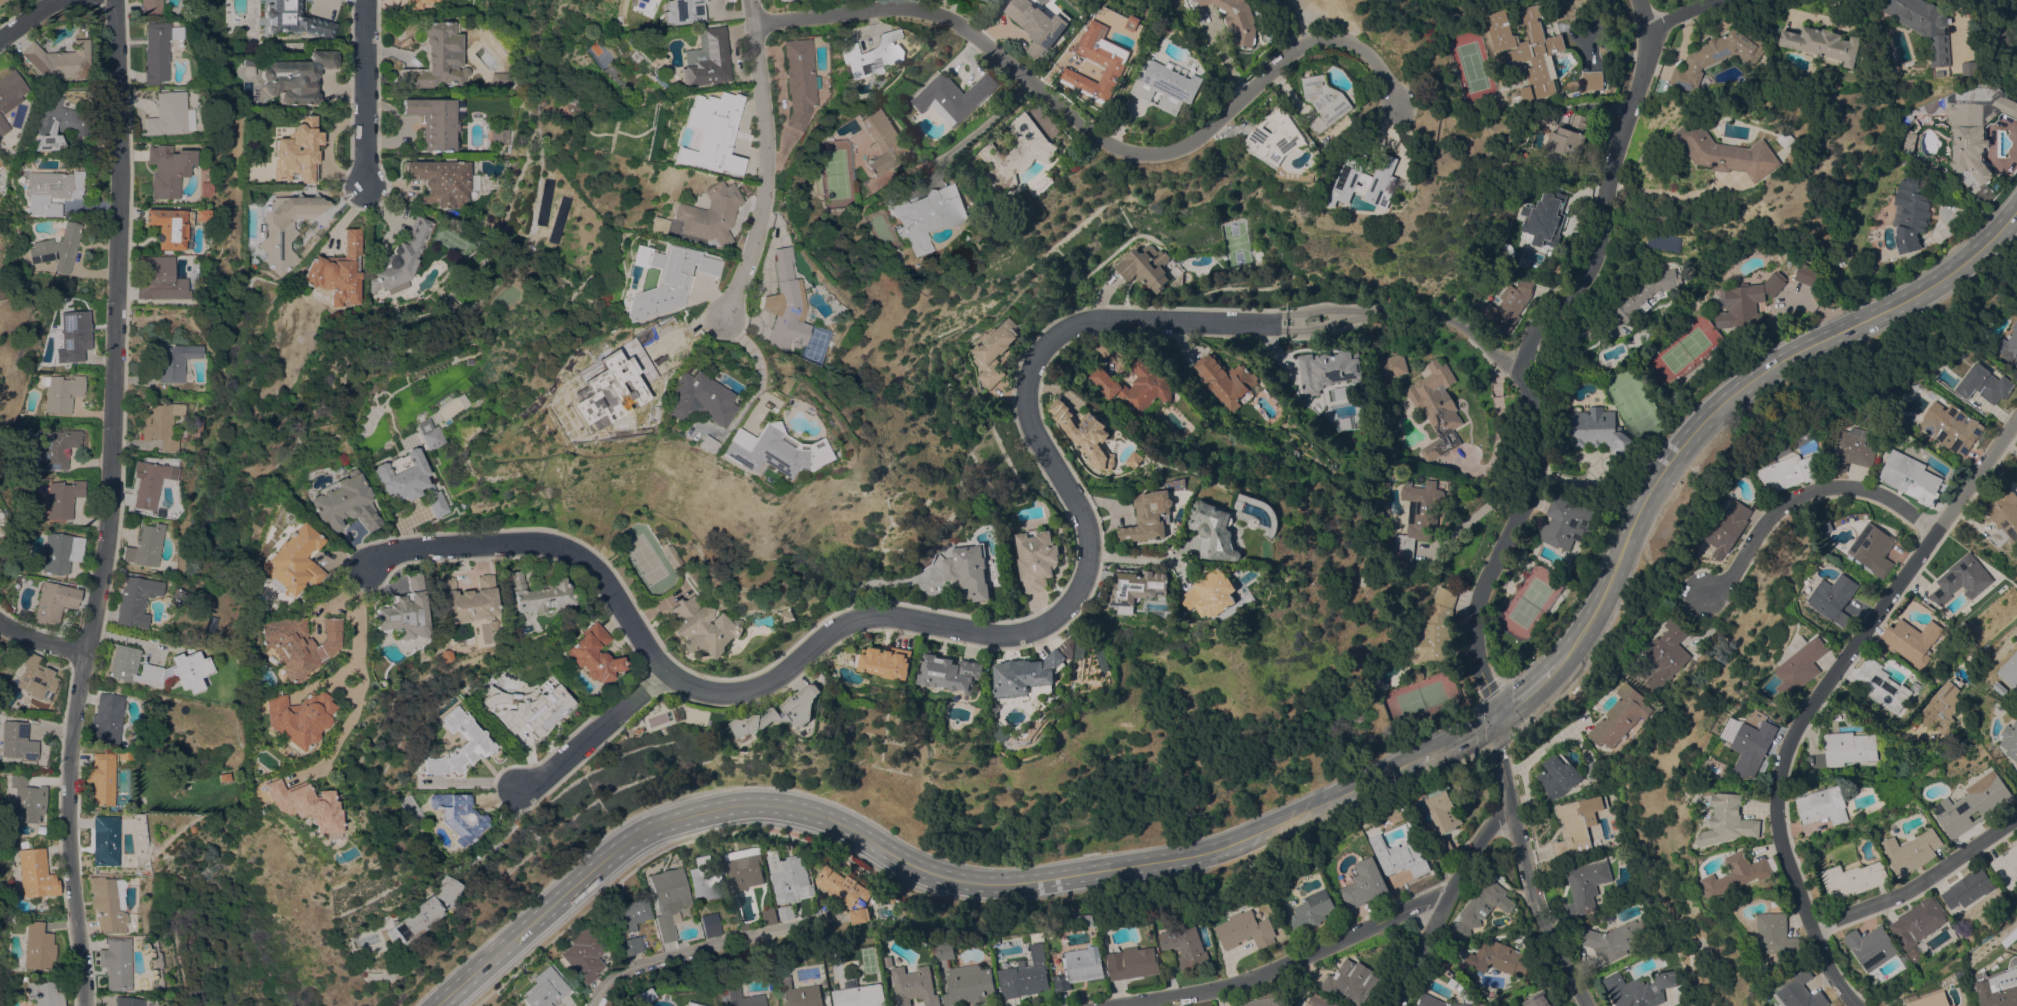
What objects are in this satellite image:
building: (1, 0)
building: (769, 0)
building: (983, 0)
building: (1197, 0)
building: (418, 3)
building: (149, 7)
building: (670, 12)
road: (1690, 15)
road: (33, 16)
building: (1238, 18)
building: (293, 19)
building: (1135, 22)
road: (1287, 22)
building: (1923, 24)
building: (1040, 25)
road: (1959, 25)
building: (1825, 44)
building: (1527, 48)
building: (157, 50)
building: (501, 51)
building: (871, 55)
building: (1718, 55)
building: (1110, 56)
building: (439, 58)
building: (695, 59)
building: (58, 60)
building: (247, 66)
building: (1970, 68)
building: (295, 78)
building: (1593, 79)
building: (501, 80)
building: (790, 81)
building: (1167, 84)
building: (10, 90)
road: (360, 92)
building: (953, 96)
building: (570, 100)
building: (1326, 101)
building: (166, 114)
building: (1551, 114)
building: (436, 120)
building: (58, 123)
road: (979, 125)
building: (3, 126)
building: (704, 132)
building: (1975, 133)
road: (1090, 134)
building: (1278, 135)
building: (500, 136)
building: (1789, 138)
building: (1328, 139)
building: (883, 140)
building: (1908, 141)
building: (1567, 143)
building: (297, 151)
building: (1729, 151)
building: (1016, 154)
road: (751, 161)
building: (166, 170)
building: (442, 181)
building: (1367, 182)
building: (204, 189)
building: (51, 190)
road: (1668, 191)
building: (697, 214)
building: (924, 214)
building: (1910, 214)
building: (198, 215)
building: (1549, 221)
road: (2005, 224)
building: (645, 226)
building: (167, 227)
building: (285, 227)
building: (56, 248)
building: (399, 258)
building: (1144, 266)
building: (337, 271)
building: (1806, 273)
building: (157, 278)
building: (652, 279)
building: (1645, 293)
building: (1746, 302)
building: (773, 304)
building: (446, 305)
building: (1507, 305)
building: (1313, 319)
road: (115, 325)
building: (1669, 333)
building: (71, 338)
building: (1619, 338)
building: (2008, 346)
building: (992, 351)
road: (1531, 354)
building: (168, 360)
building: (462, 361)
building: (1394, 365)
building: (1328, 371)
road: (742, 372)
building: (1228, 380)
building: (1104, 381)
building: (1986, 385)
building: (1146, 388)
building: (61, 392)
building: (590, 394)
building: (683, 399)
road: (1723, 401)
building: (1436, 407)
building: (157, 424)
building: (1952, 427)
building: (1599, 430)
building: (1085, 434)
building: (423, 438)
building: (1822, 441)
building: (690, 444)
building: (57, 448)
building: (1854, 449)
building: (756, 453)
building: (1788, 471)
building: (1911, 477)
building: (401, 480)
building: (146, 483)
road: (1802, 493)
building: (62, 498)
building: (338, 503)
building: (1419, 515)
road: (1472, 515)
building: (1151, 516)
building: (2004, 517)
building: (1566, 522)
building: (1729, 529)
building: (1219, 531)
building: (144, 545)
building: (1873, 549)
building: (60, 552)
road: (1135, 554)
building: (670, 556)
building: (1037, 558)
building: (287, 561)
building: (971, 571)
building: (1962, 579)
building: (1140, 585)
building: (1217, 592)
building: (535, 594)
building: (1834, 597)
building: (135, 600)
building: (463, 600)
building: (53, 602)
building: (397, 612)
building: (788, 615)
road: (1053, 619)
building: (703, 627)
building: (1435, 630)
road: (40, 640)
building: (1911, 640)
building: (1071, 643)
building: (294, 644)
building: (1666, 654)
building: (592, 655)
building: (1103, 659)
building: (886, 661)
building: (1799, 663)
building: (155, 668)
building: (952, 672)
building: (2010, 672)
building: (1031, 675)
building: (1417, 675)
building: (36, 679)
road: (353, 684)
building: (1881, 685)
building: (1915, 687)
building: (2000, 688)
road: (1817, 696)
road: (1529, 697)
building: (998, 706)
building: (529, 707)
building: (1942, 709)
building: (785, 711)
building: (1619, 716)
building: (107, 717)
building: (295, 719)
traffic signals: (1496, 720)
road: (592, 731)
building: (2011, 739)
road: (1459, 740)
building: (17, 741)
building: (1753, 744)
building: (460, 745)
building: (1849, 747)
building: (154, 753)
building: (125, 754)
building: (1592, 770)
building: (1558, 775)
building: (223, 777)
building: (101, 778)
road: (472, 784)
building: (27, 800)
building: (1974, 804)
building: (301, 805)
building: (1821, 806)
building: (1445, 811)
building: (457, 815)
building: (1729, 820)
building: (1575, 826)
road: (68, 827)
building: (104, 840)
building: (1443, 843)
building: (23, 844)
building: (773, 850)
building: (1912, 851)
building: (1401, 856)
building: (720, 861)
road: (903, 861)
building: (2007, 866)
building: (745, 867)
road: (1526, 867)
building: (1739, 873)
building: (35, 874)
building: (788, 876)
building: (706, 879)
building: (1854, 879)
building: (1366, 883)
road: (1919, 883)
building: (1585, 887)
building: (1968, 888)
building: (811, 889)
building: (443, 890)
building: (846, 892)
building: (668, 899)
building: (105, 905)
building: (1481, 907)
building: (1314, 909)
building: (786, 912)
building: (628, 914)
building: (769, 915)
building: (411, 920)
building: (1917, 922)
building: (710, 924)
building: (743, 927)
building: (1244, 930)
building: (1776, 934)
building: (1617, 938)
building: (135, 940)
road: (1342, 940)
building: (1187, 943)
building: (630, 945)
building: (37, 946)
building: (1872, 946)
road: (702, 949)
building: (946, 950)
road: (1423, 950)
building: (1914, 953)
building: (585, 954)
building: (1499, 957)
building: (1905, 959)
building: (889, 961)
building: (1135, 962)
building: (115, 963)
building: (1081, 967)
building: (1026, 975)
building: (1351, 980)
building: (970, 984)
building: (915, 985)
building: (544, 988)
building: (1638, 989)
building: (2000, 990)
building: (1801, 992)
building: (799, 993)
building: (43, 994)
building: (860, 995)
building: (641, 997)
building: (740, 997)
building: (1318, 999)
building: (1538, 1000)
building: (1933, 1000)
building: (126, 1001)
building: (1264, 1001)
building: (1435, 1001)
building: (690, 1004)

